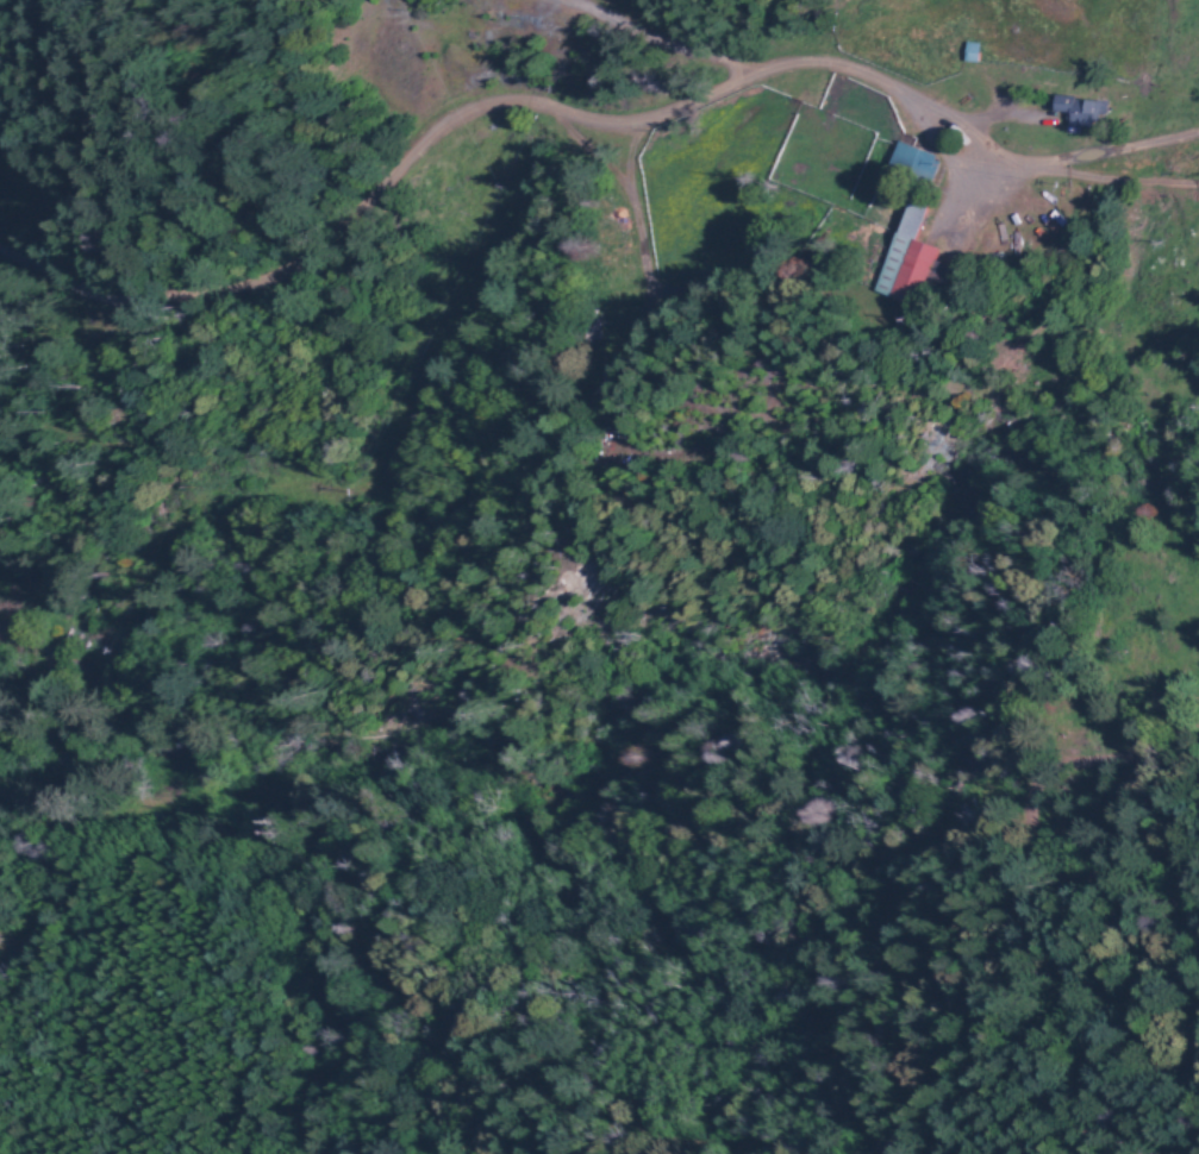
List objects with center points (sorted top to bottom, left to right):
building: (1079, 109)
road: (964, 152)
building: (912, 162)
road: (1122, 186)
road: (371, 203)
building: (908, 259)
road: (40, 647)
road: (994, 1042)

